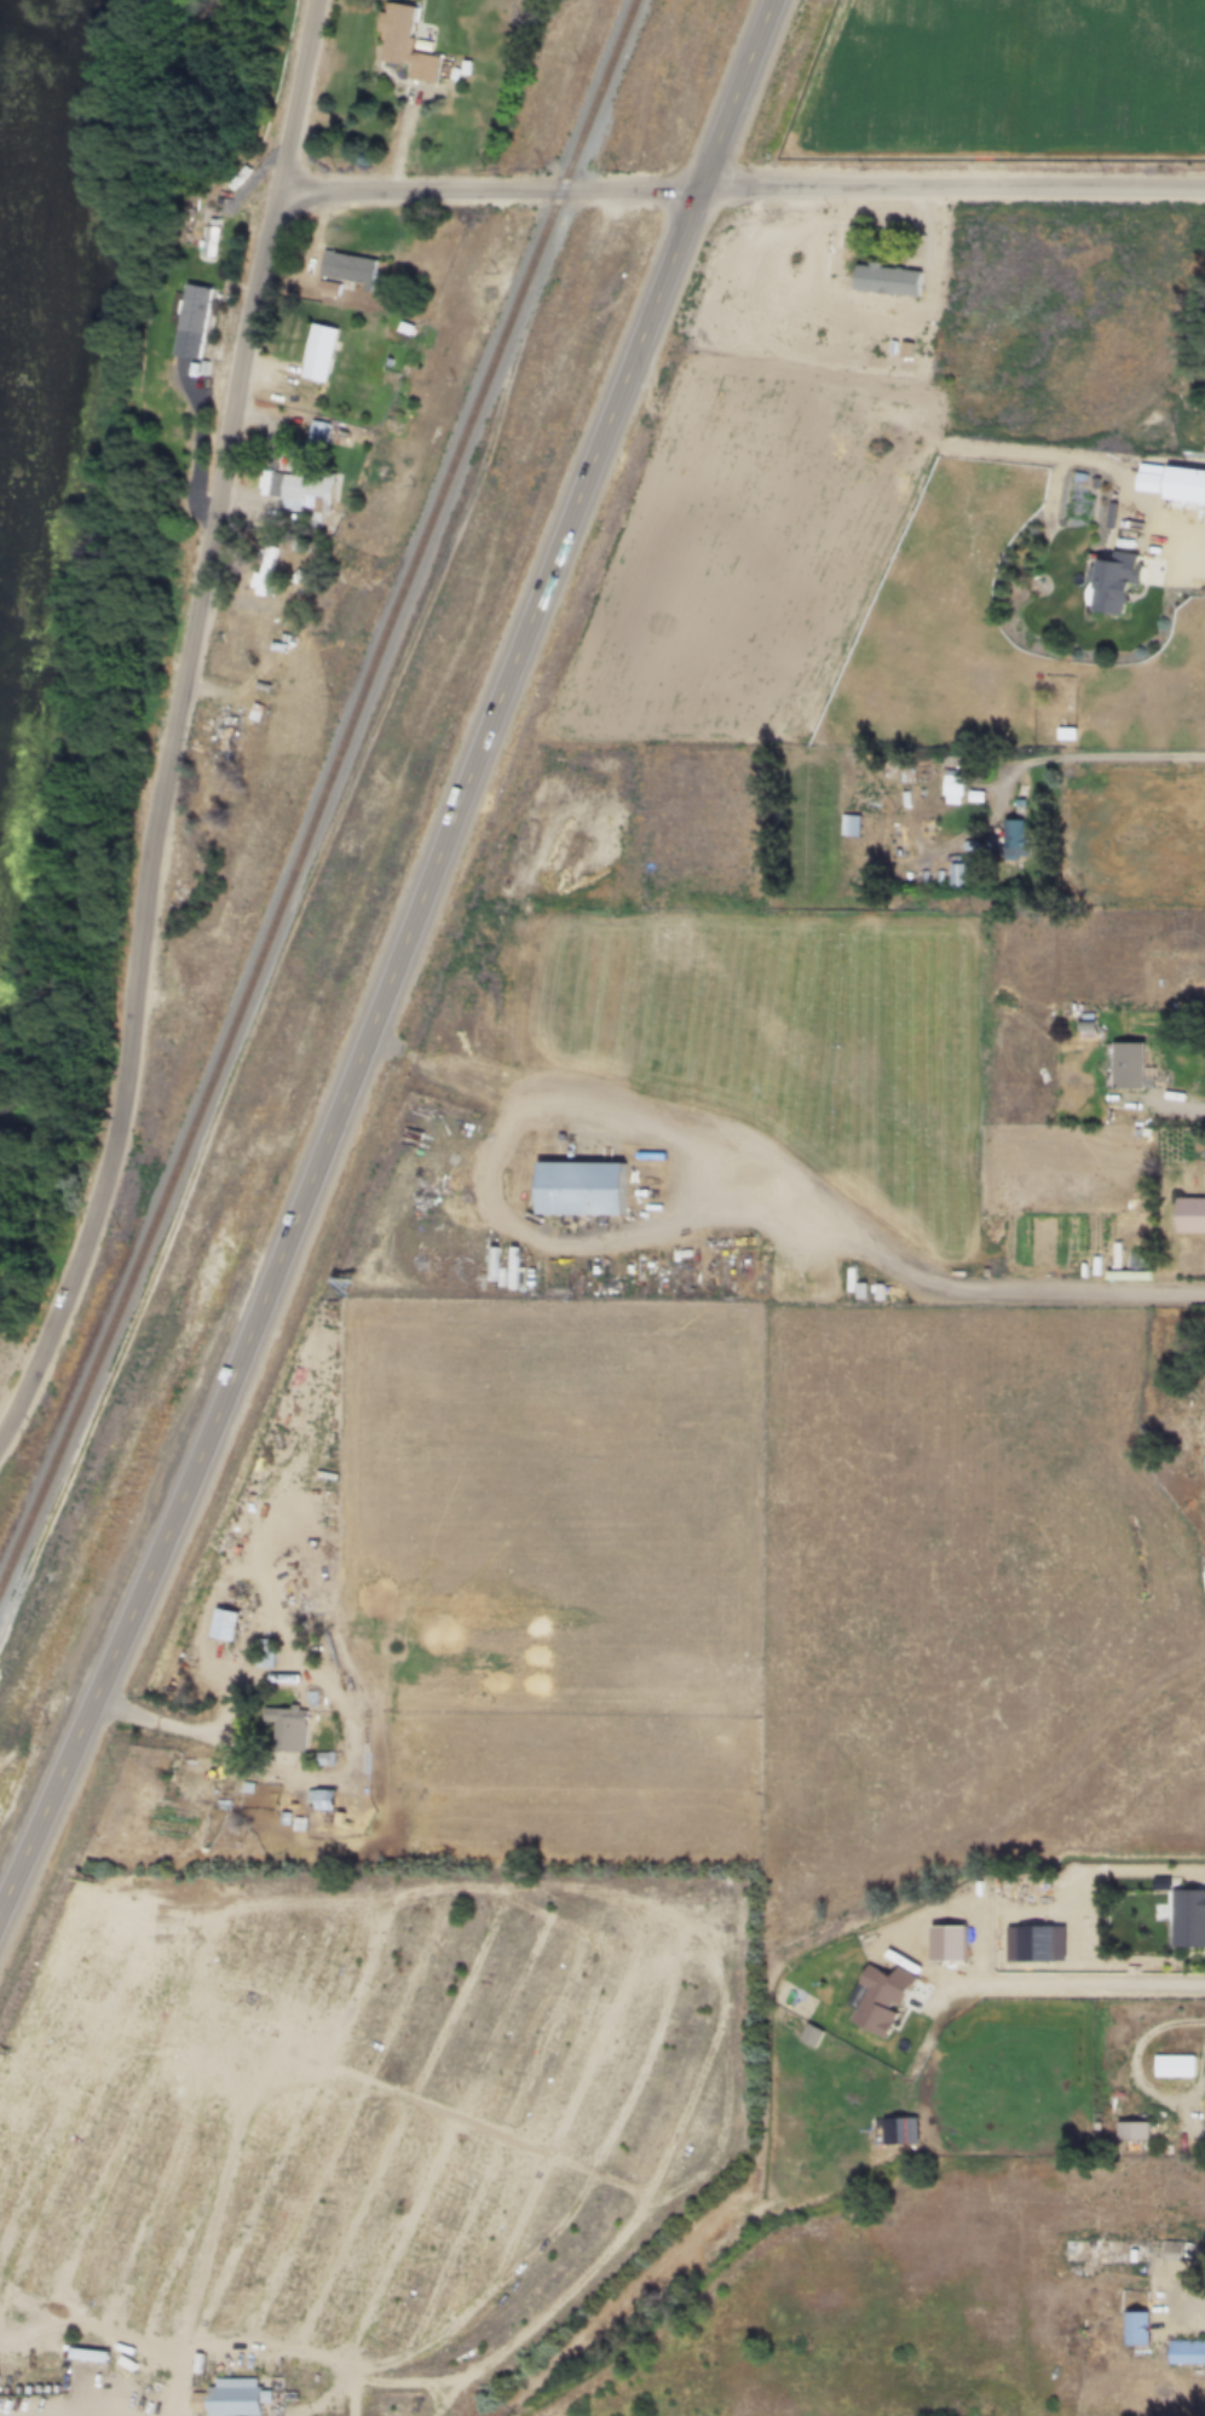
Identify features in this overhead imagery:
building: (408, 42)
road: (743, 188)
building: (211, 241)
building: (350, 269)
building: (884, 278)
building: (194, 321)
building: (322, 353)
building: (321, 432)
building: (1172, 482)
building: (307, 493)
road: (1192, 548)
building: (265, 571)
building: (1111, 580)
road: (180, 726)
building: (224, 741)
road: (1118, 763)
building: (951, 782)
railway: (322, 793)
building: (848, 823)
building: (1013, 838)
building: (955, 873)
road: (396, 955)
building: (1123, 1064)
road: (1190, 1111)
building: (576, 1187)
building: (1198, 1216)
road: (949, 1294)
building: (1204, 1466)
building: (221, 1624)
building: (264, 1656)
road: (166, 1725)
building: (284, 1727)
building: (319, 1800)
building: (27, 1825)
road: (1088, 1871)
road: (1100, 1983)
building: (1172, 2066)
road: (1136, 2071)
building: (1131, 2130)
road: (1184, 2295)
building: (1135, 2329)
building: (1186, 2352)
building: (115, 2395)
building: (230, 2398)

